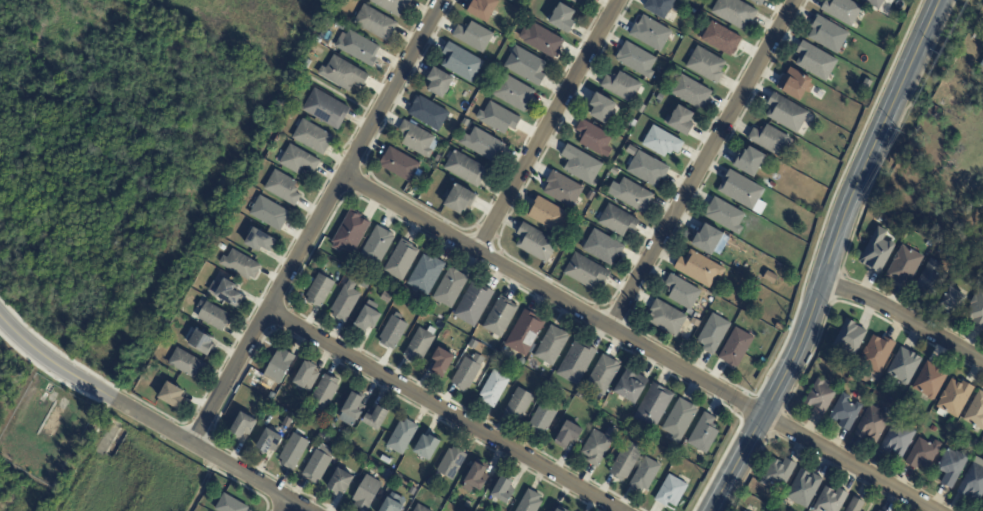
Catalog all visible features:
building: (512, 0)
building: (580, 0)
building: (587, 0)
building: (888, 0)
building: (889, 0)
building: (573, 1)
building: (757, 2)
building: (874, 3)
building: (392, 6)
building: (659, 8)
building: (482, 10)
building: (842, 11)
building: (734, 13)
building: (562, 19)
building: (375, 24)
building: (650, 34)
building: (828, 35)
building: (473, 37)
building: (721, 40)
building: (541, 41)
building: (358, 49)
building: (636, 61)
building: (815, 62)
building: (461, 63)
building: (982, 65)
building: (706, 66)
building: (525, 67)
building: (342, 75)
building: (438, 84)
building: (795, 85)
building: (866, 85)
building: (621, 87)
building: (691, 93)
building: (512, 94)
building: (660, 98)
building: (601, 108)
building: (325, 110)
building: (427, 113)
building: (786, 114)
building: (497, 119)
building: (680, 122)
building: (632, 124)
road: (549, 125)
building: (594, 137)
building: (312, 138)
building: (770, 140)
building: (416, 141)
building: (662, 143)
building: (484, 146)
building: (631, 149)
building: (296, 161)
road: (704, 163)
building: (749, 163)
building: (580, 164)
building: (399, 165)
building: (647, 168)
building: (466, 170)
building: (614, 172)
building: (282, 188)
building: (562, 189)
building: (743, 193)
building: (633, 195)
building: (458, 201)
building: (269, 214)
building: (547, 214)
building: (725, 214)
building: (618, 221)
road: (319, 222)
building: (350, 232)
building: (708, 238)
building: (258, 242)
building: (535, 242)
building: (930, 244)
building: (377, 245)
building: (603, 247)
building: (877, 250)
building: (940, 251)
road: (829, 257)
building: (401, 260)
building: (552, 261)
building: (904, 265)
building: (239, 266)
building: (699, 268)
building: (585, 271)
building: (425, 273)
building: (764, 276)
building: (929, 278)
building: (380, 280)
building: (364, 283)
building: (450, 287)
building: (319, 290)
building: (682, 291)
building: (226, 294)
building: (385, 297)
building: (953, 299)
building: (344, 301)
building: (473, 303)
building: (976, 309)
road: (904, 314)
building: (500, 316)
building: (666, 317)
building: (212, 318)
building: (366, 320)
building: (695, 322)
building: (192, 324)
building: (392, 331)
building: (524, 333)
building: (713, 333)
building: (850, 337)
building: (202, 343)
road: (639, 343)
building: (473, 344)
building: (551, 345)
building: (418, 346)
building: (736, 347)
building: (878, 352)
building: (763, 360)
building: (576, 362)
building: (441, 363)
road: (54, 364)
building: (185, 365)
building: (904, 365)
building: (279, 366)
building: (467, 372)
building: (603, 374)
building: (305, 376)
building: (930, 380)
building: (630, 385)
building: (493, 388)
building: (580, 389)
building: (324, 390)
building: (171, 396)
building: (820, 396)
building: (954, 398)
building: (518, 404)
building: (653, 405)
building: (351, 409)
road: (443, 411)
building: (846, 411)
building: (976, 412)
building: (543, 416)
building: (376, 418)
building: (679, 419)
building: (873, 424)
building: (242, 427)
building: (329, 427)
building: (322, 434)
building: (703, 434)
building: (568, 435)
building: (402, 436)
building: (899, 438)
building: (269, 442)
building: (598, 446)
building: (427, 447)
building: (292, 451)
building: (347, 451)
building: (923, 453)
road: (211, 456)
building: (625, 460)
building: (317, 464)
building: (450, 464)
building: (952, 466)
building: (778, 474)
building: (645, 475)
building: (476, 476)
building: (974, 481)
building: (340, 482)
building: (430, 482)
building: (750, 485)
building: (803, 488)
building: (502, 489)
building: (749, 490)
building: (412, 491)
building: (671, 491)
building: (366, 493)
building: (830, 500)
building: (529, 502)
building: (229, 504)
building: (466, 504)
building: (855, 504)
building: (391, 506)
road: (288, 507)
building: (982, 507)
building: (420, 508)
building: (560, 509)
building: (548, 510)
building: (743, 510)

